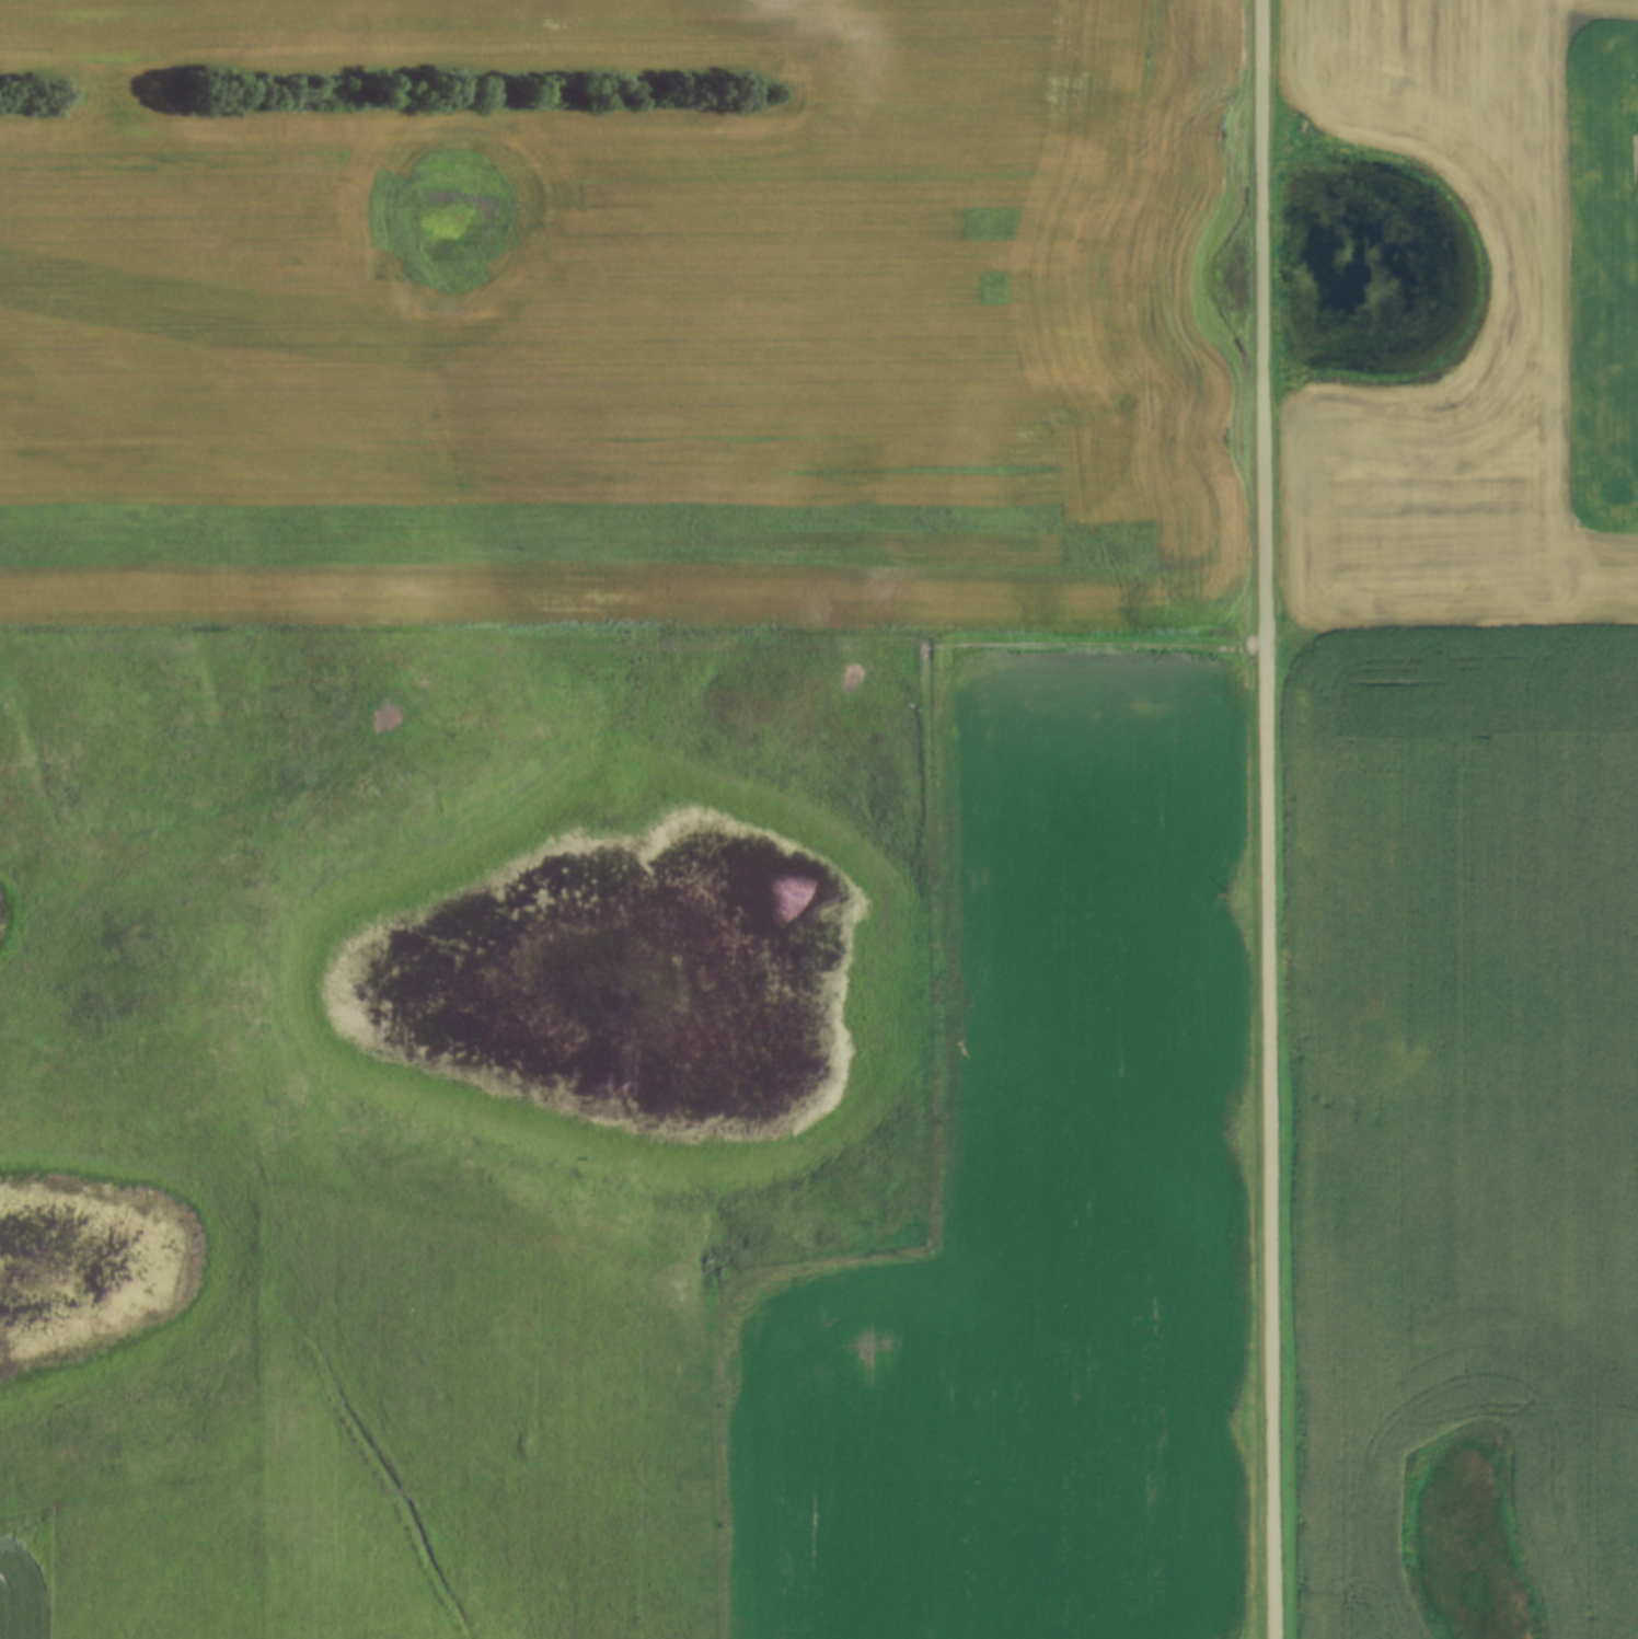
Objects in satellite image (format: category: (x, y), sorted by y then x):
road: (1271, 819)

